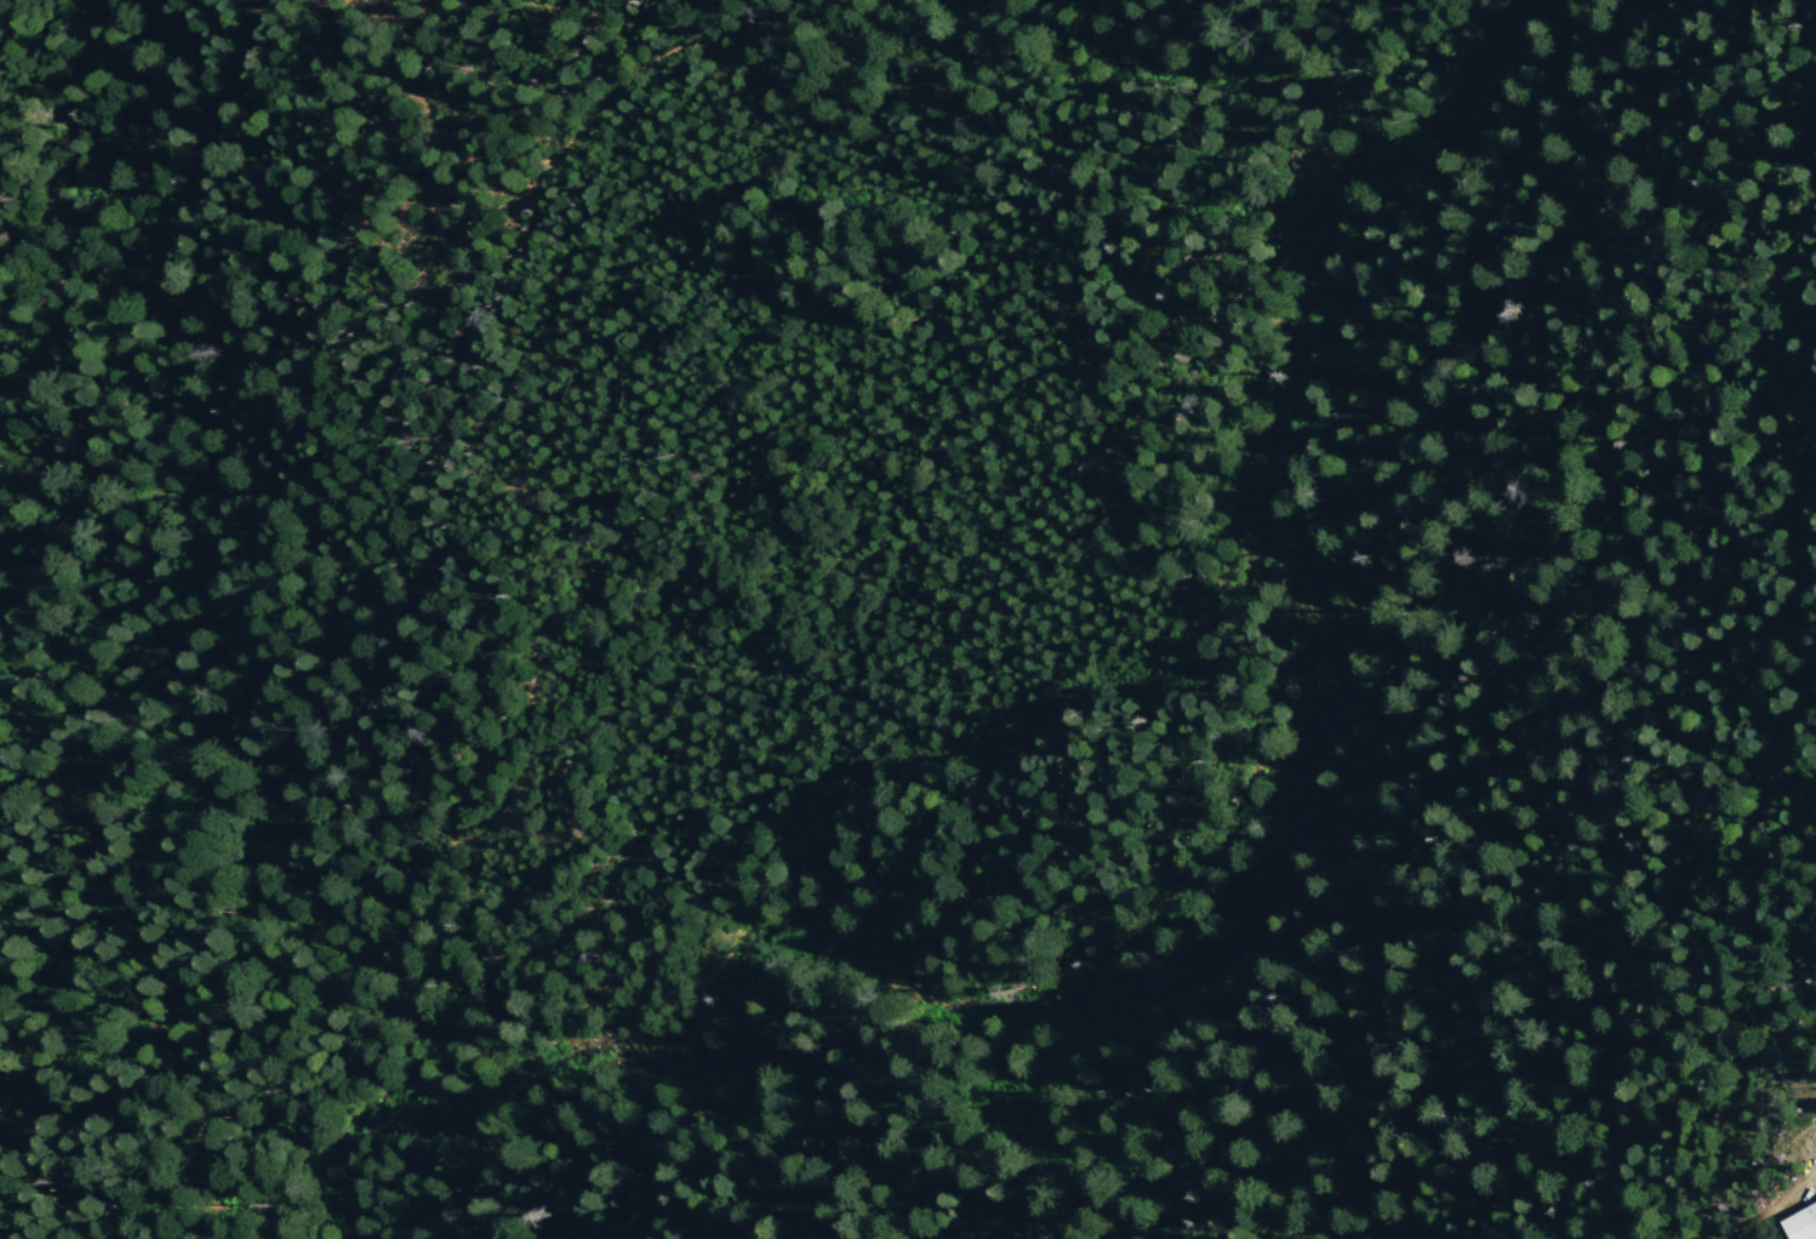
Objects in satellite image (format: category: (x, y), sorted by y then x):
road: (1747, 1200)
building: (1801, 1222)

